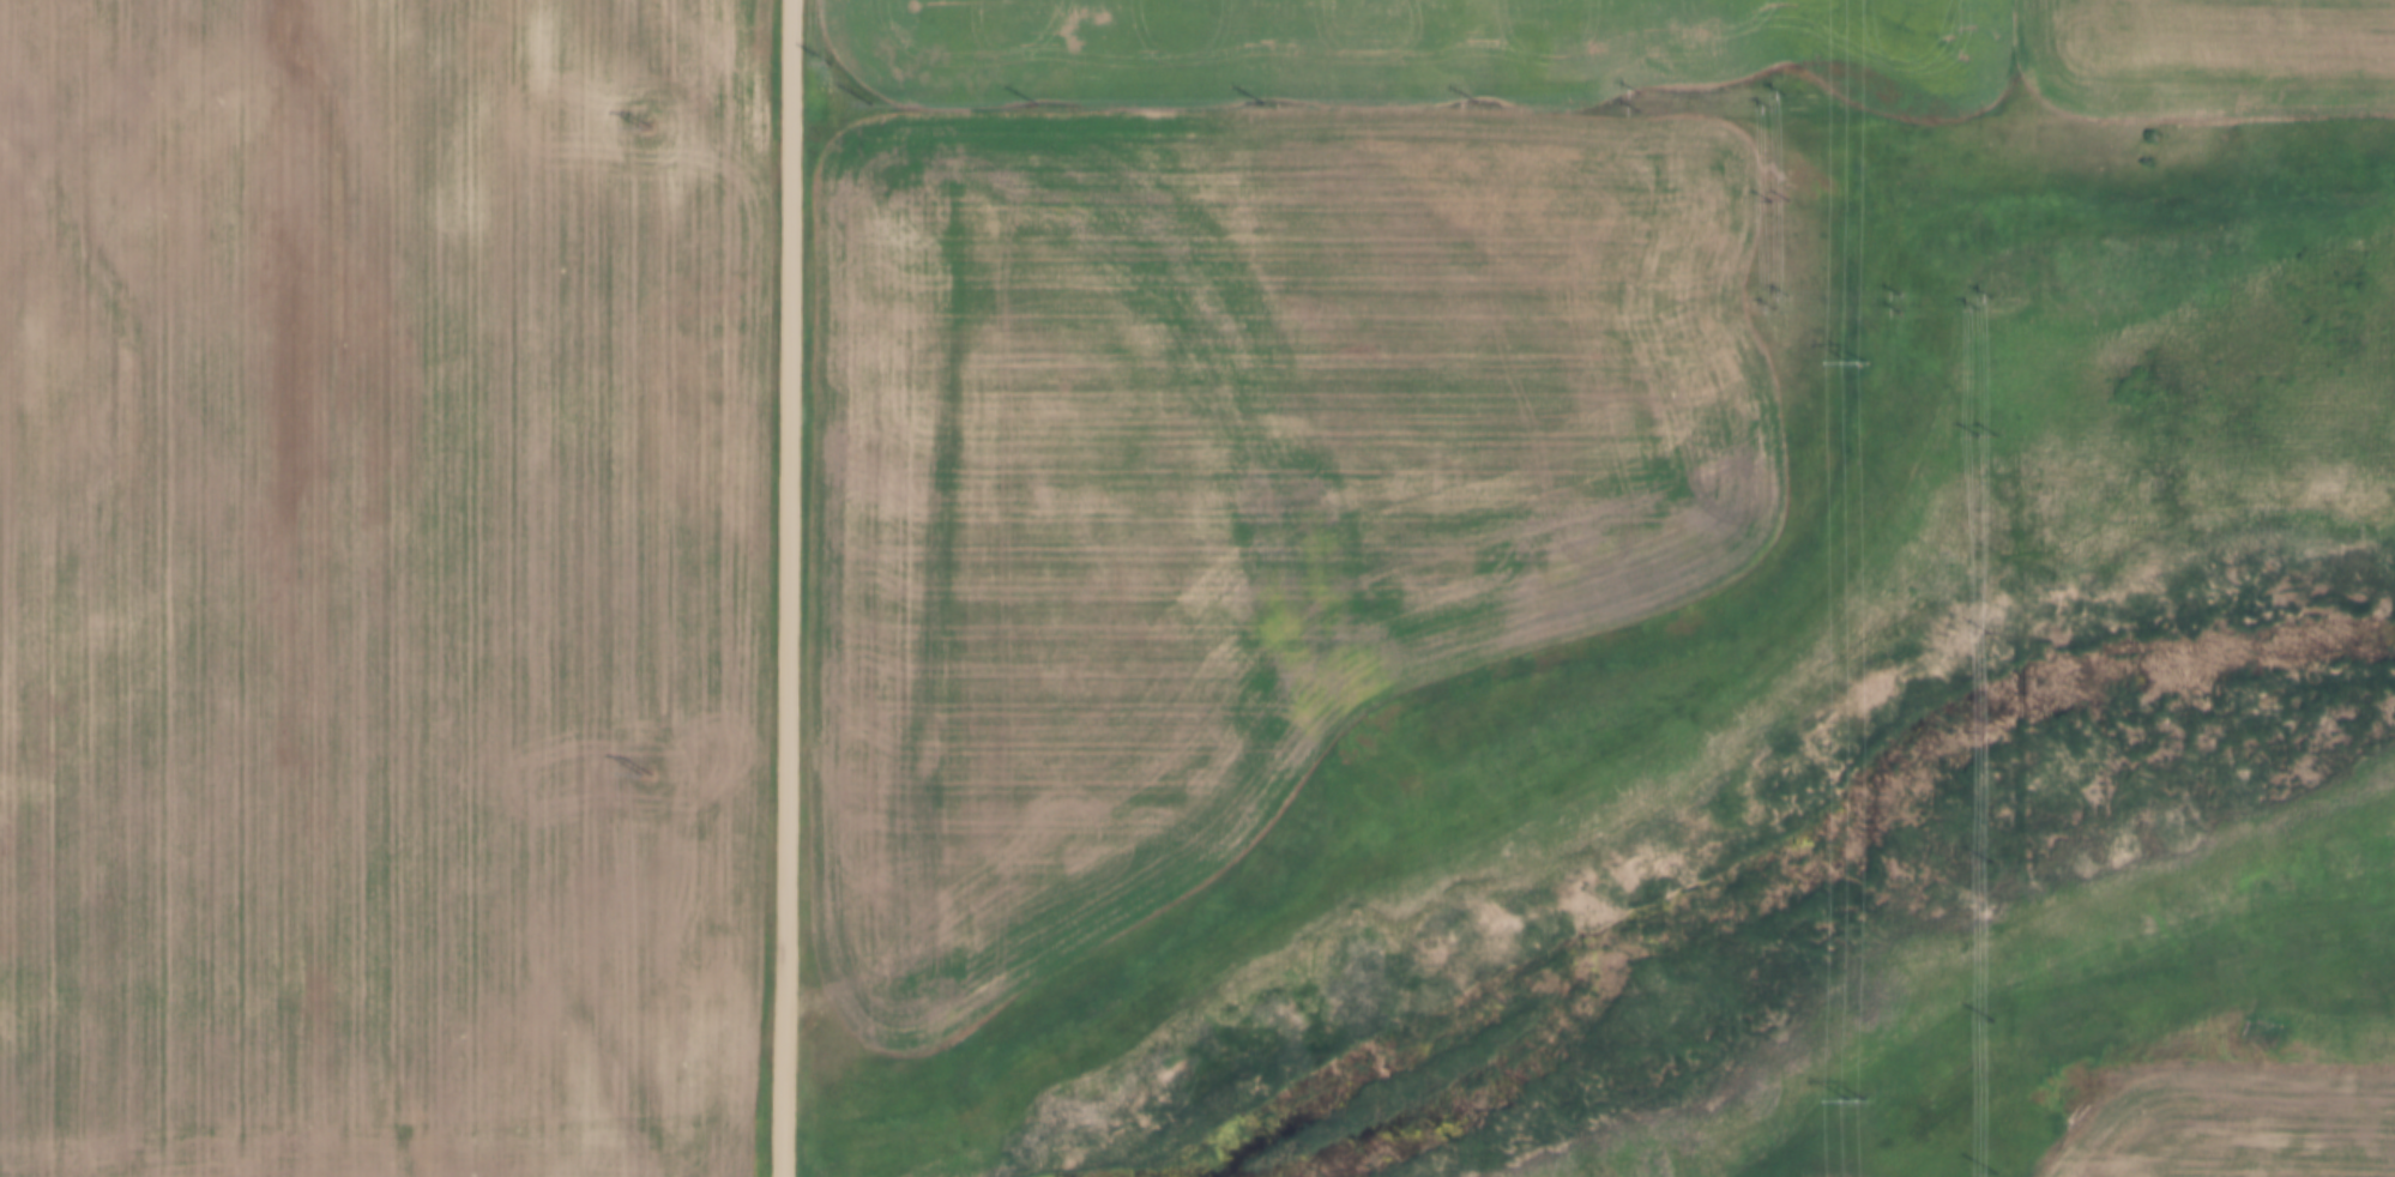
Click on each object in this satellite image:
power tower: (1857, 363)
road: (788, 588)
power tower: (1851, 1101)

